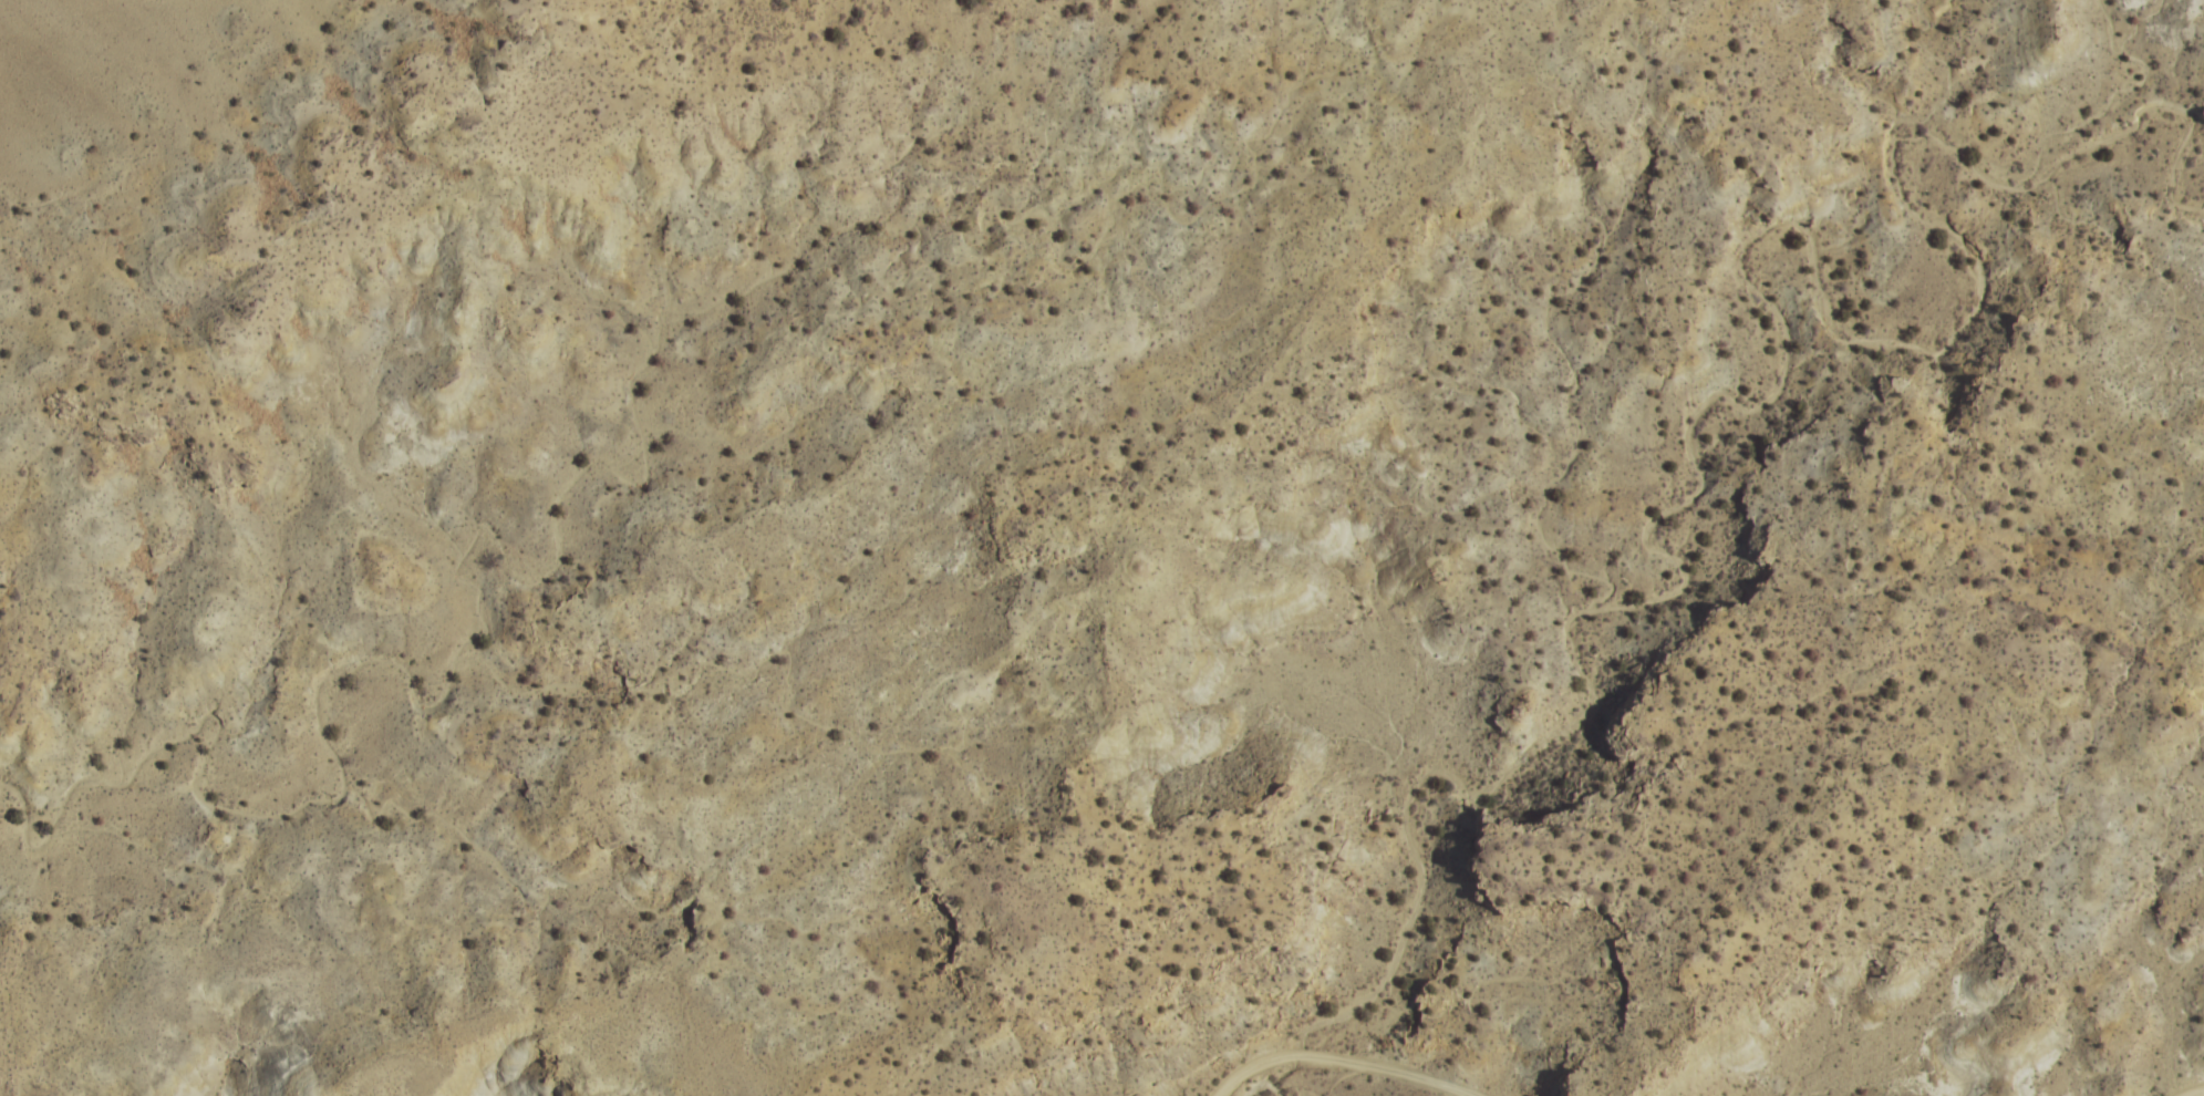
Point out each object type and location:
road: (1346, 1052)
road: (2187, 1088)

